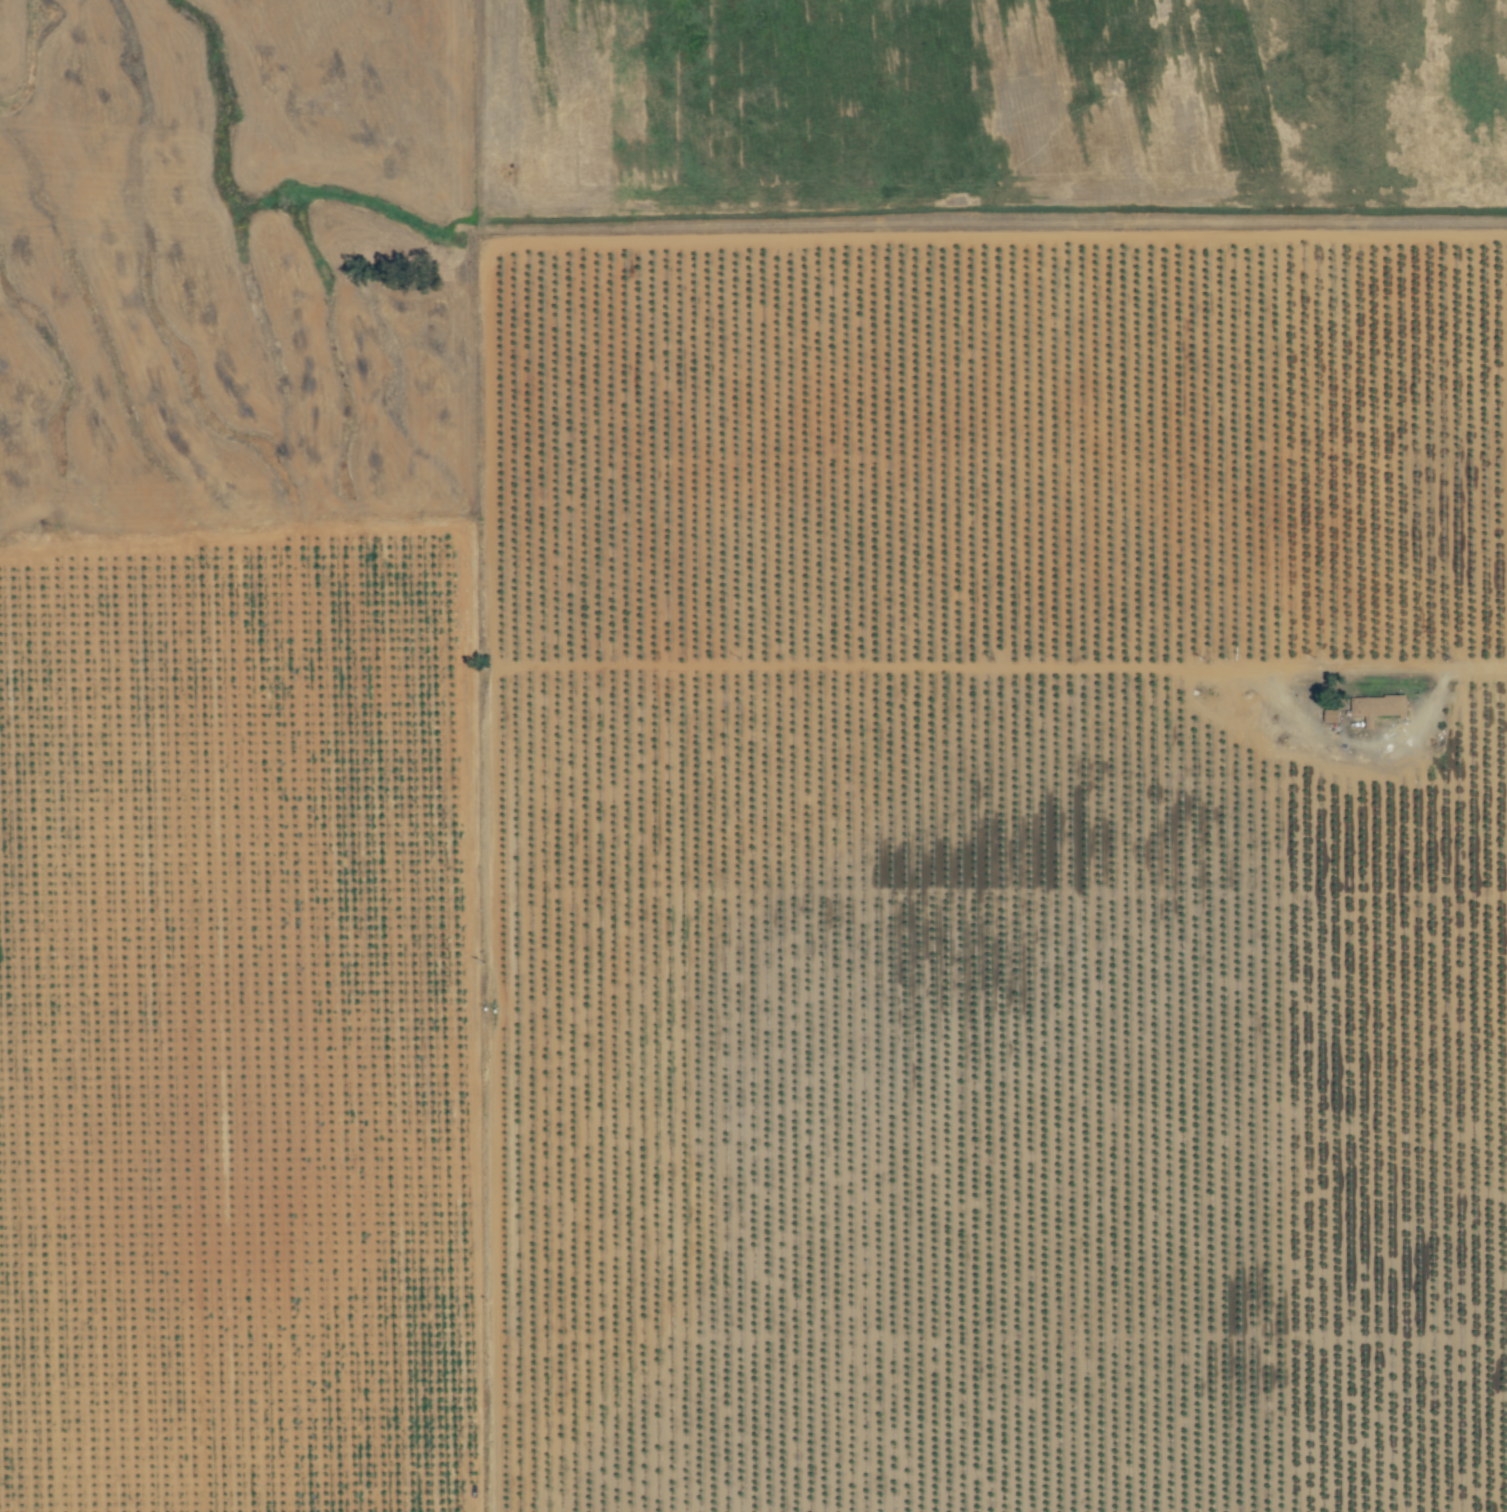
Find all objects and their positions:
road: (1475, 669)
road: (1292, 707)
building: (1379, 709)
crop: (1039, 1165)

